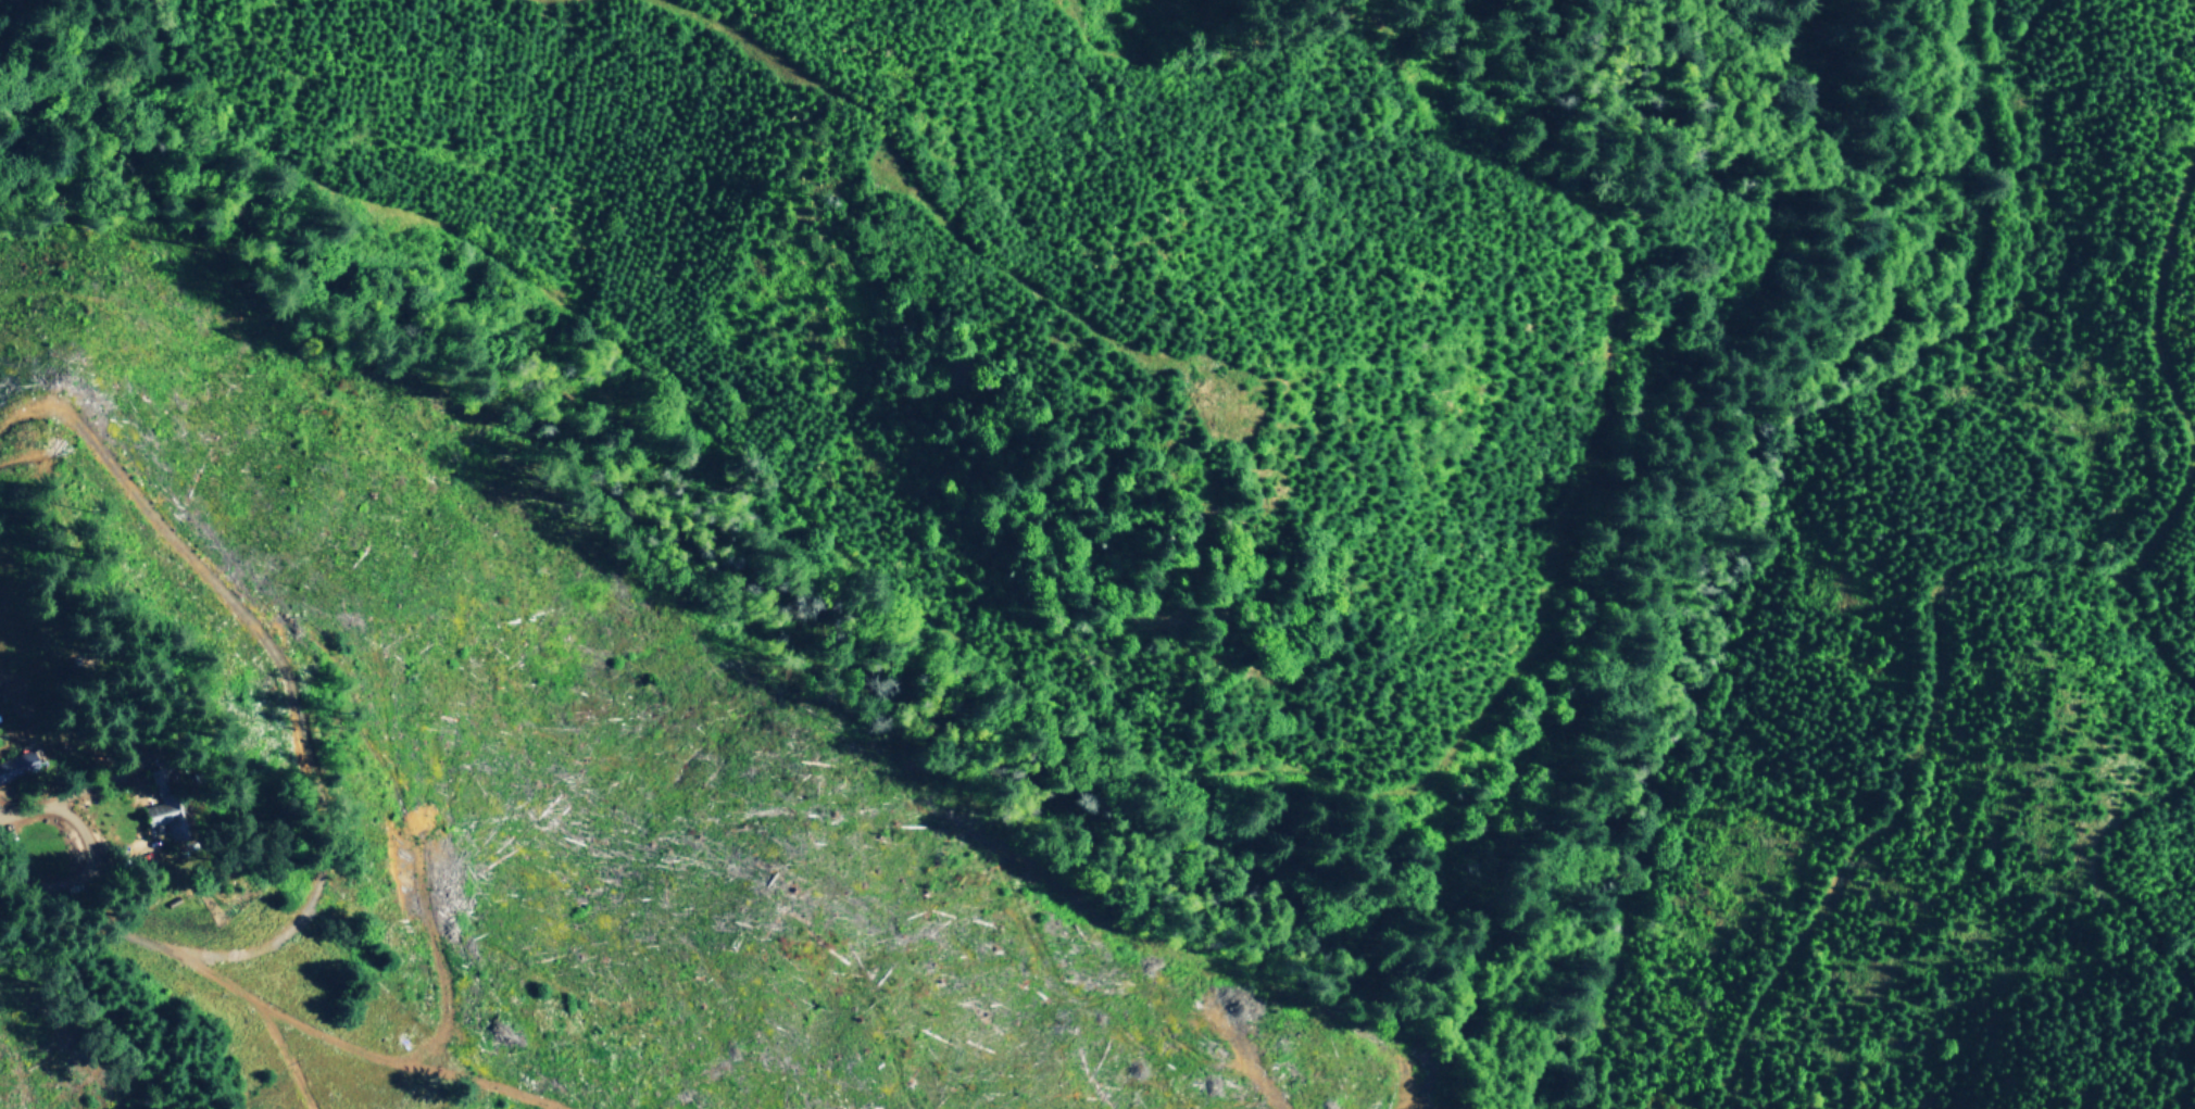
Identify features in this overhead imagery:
road: (2160, 303)
road: (1765, 516)
road: (1929, 716)
road: (88, 864)

